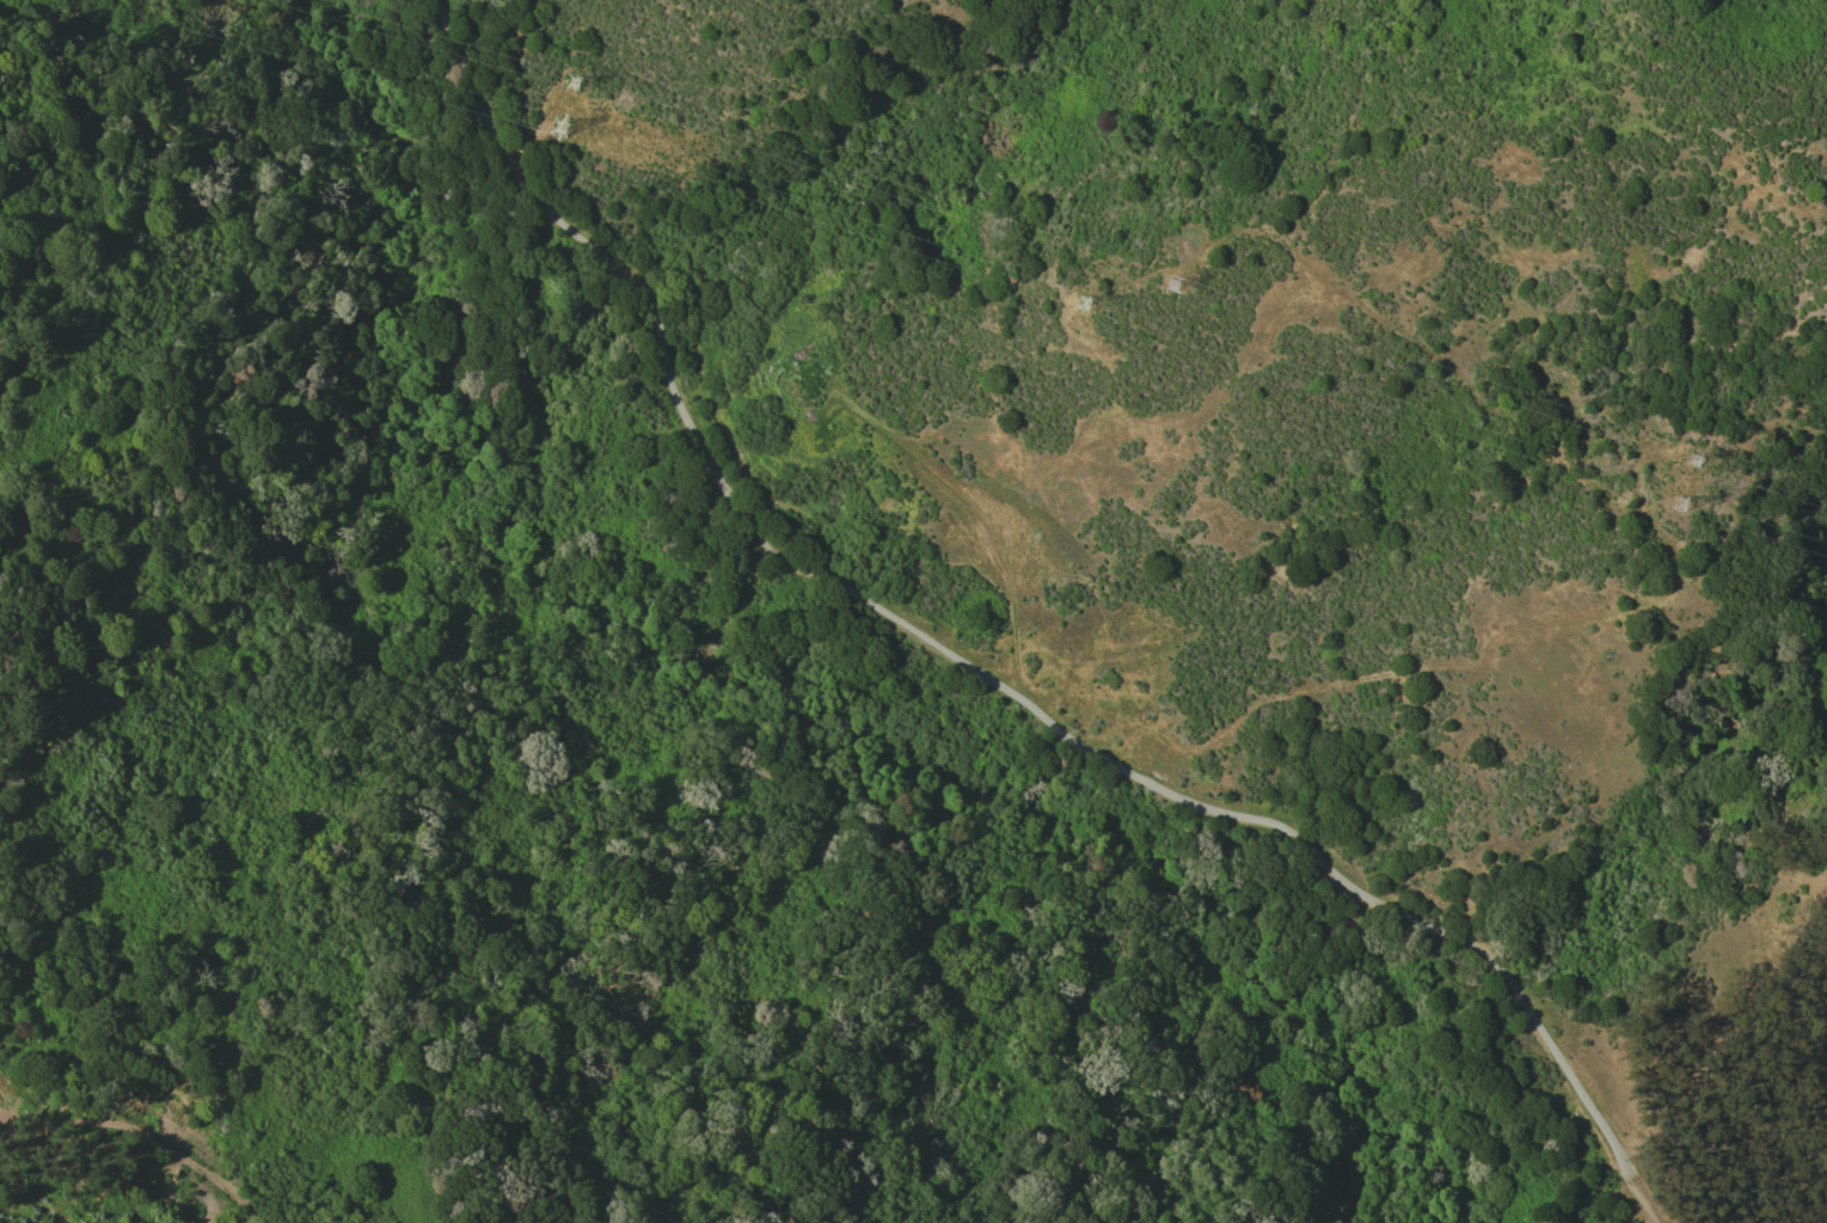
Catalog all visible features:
power tower: (568, 81)
power tower: (553, 127)
power tower: (1178, 279)
power tower: (1081, 304)
power tower: (1699, 459)
power tower: (1679, 506)
road: (982, 674)
road: (2, 1108)
road: (148, 1129)

